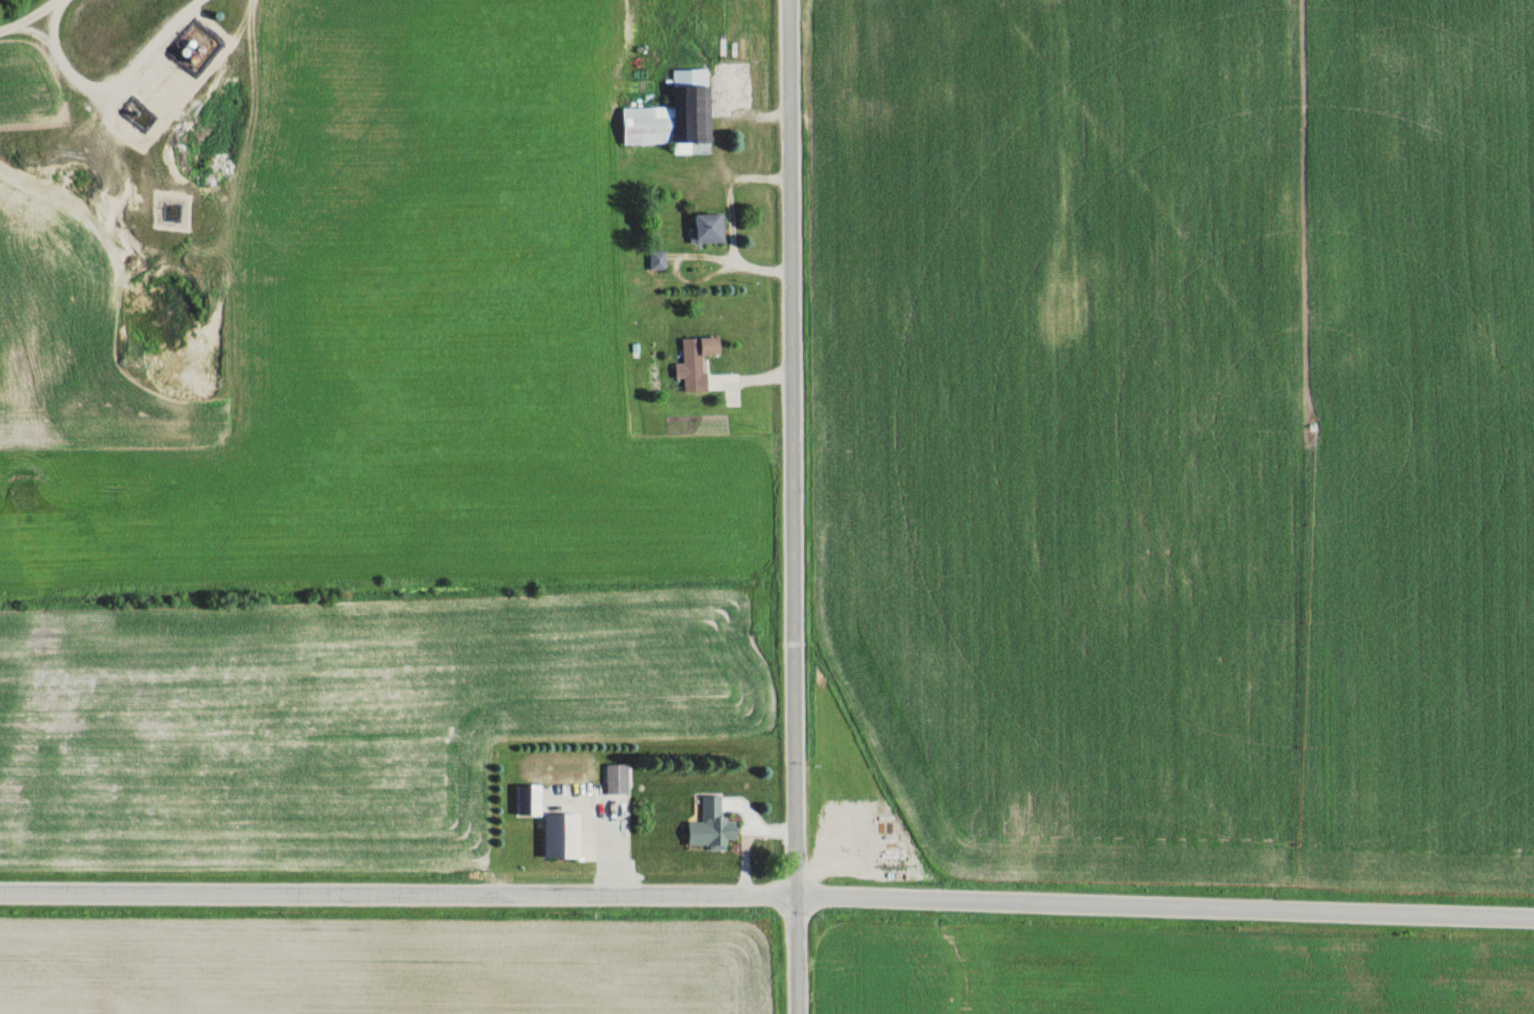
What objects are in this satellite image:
petroleum well: (132, 111)
building: (674, 116)
building: (706, 227)
building: (657, 259)
building: (694, 361)
road: (792, 507)
building: (615, 778)
building: (710, 825)
building: (560, 832)
road: (398, 892)
road: (1165, 905)

